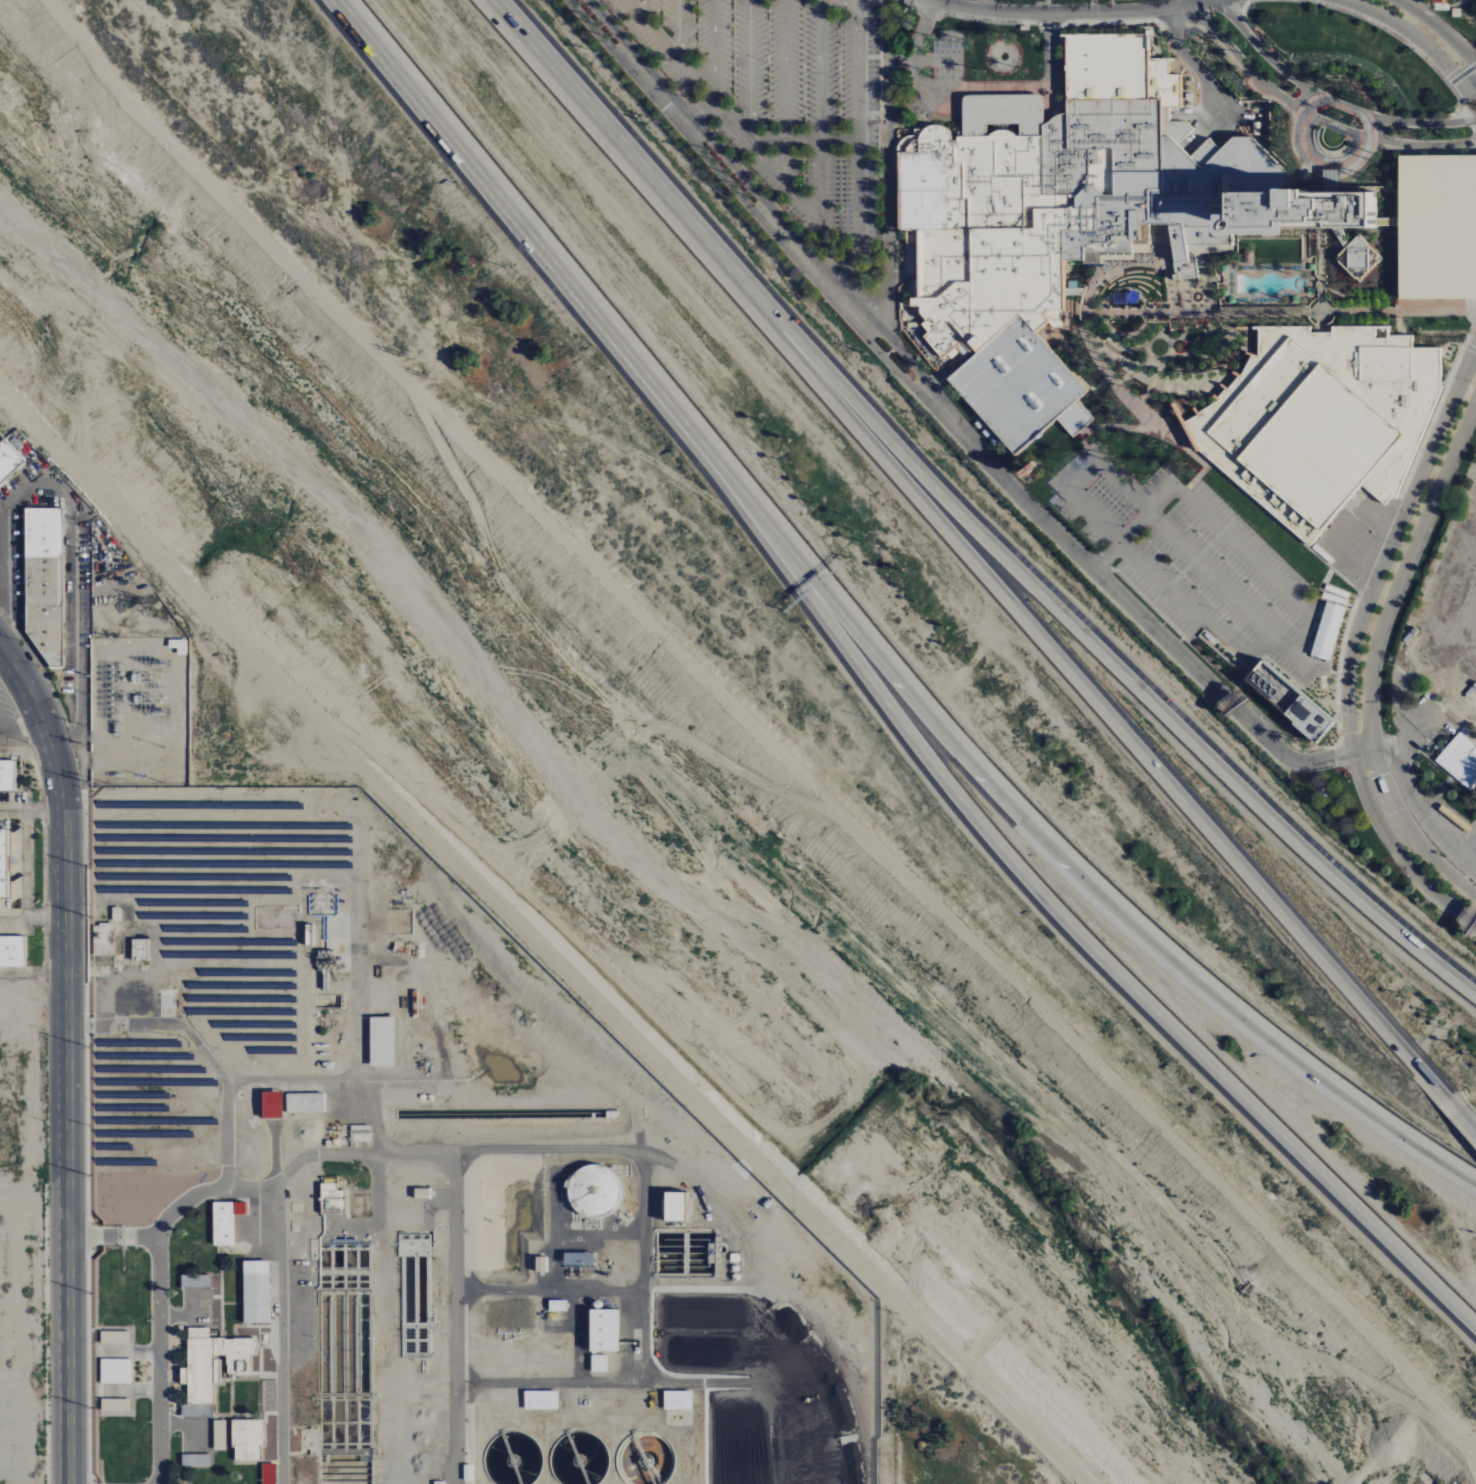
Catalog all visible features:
parking lot: (1034, 0)
building: (1438, 1)
road: (906, 2)
road: (1463, 2)
road: (848, 3)
road: (1175, 3)
road: (1457, 3)
road: (986, 5)
building: (1439, 6)
road: (1444, 6)
road: (918, 10)
road: (642, 11)
road: (1065, 12)
road: (1199, 13)
building: (1453, 13)
road: (939, 17)
road: (1185, 20)
road: (1369, 21)
road: (990, 22)
road: (1114, 23)
road: (1061, 24)
road: (1038, 25)
road: (1049, 25)
road: (1441, 29)
road: (678, 31)
road: (1414, 35)
road: (1163, 47)
road: (666, 48)
road: (1050, 50)
road: (714, 51)
road: (914, 55)
road: (647, 58)
road: (868, 58)
parking lot: (947, 58)
fountain: (1001, 58)
fountain: (1002, 58)
road: (1268, 59)
road: (880, 60)
road: (923, 61)
road: (1242, 62)
road: (749, 70)
road: (1462, 76)
road: (1211, 84)
road: (996, 89)
road: (786, 92)
parking lot: (780, 94)
road: (887, 99)
road: (1464, 99)
road: (868, 100)
road: (1002, 108)
road: (1055, 110)
road: (889, 111)
road: (821, 112)
road: (869, 114)
road: (1195, 114)
road: (698, 116)
road: (1238, 120)
road: (858, 123)
road: (1468, 123)
road: (1416, 124)
road: (929, 125)
road: (999, 126)
road: (1016, 126)
road: (906, 128)
road: (607, 132)
road: (801, 139)
fountain: (1333, 140)
fountain: (1331, 144)
road: (464, 146)
road: (1418, 147)
road: (1297, 150)
road: (725, 156)
road: (1298, 159)
road: (767, 163)
road: (1338, 180)
road: (745, 200)
building: (1083, 222)
building: (1443, 227)
parking lot: (1443, 227)
road: (1400, 228)
road: (887, 231)
road: (877, 236)
road: (1320, 244)
road: (1322, 244)
road: (1319, 255)
building: (1249, 257)
road: (917, 259)
road: (1301, 259)
road: (911, 262)
road: (842, 264)
road: (1315, 267)
road: (1222, 277)
road: (1317, 280)
building: (1133, 297)
building: (1121, 298)
road: (1406, 300)
road: (1315, 303)
fountain: (1310, 304)
fountain: (1328, 304)
fountain: (1264, 307)
building: (1077, 308)
road: (1146, 308)
road: (1101, 309)
road: (1145, 309)
road: (1464, 310)
road: (1089, 317)
road: (1257, 317)
road: (1101, 318)
road: (1145, 318)
fountain: (1328, 321)
fountain: (1311, 322)
road: (1320, 334)
road: (1100, 335)
road: (1399, 336)
road: (1102, 338)
road: (1104, 341)
road: (1199, 341)
road: (1116, 342)
road: (1469, 348)
road: (899, 351)
road: (1230, 351)
fountain: (1122, 354)
road: (1143, 366)
road: (1150, 368)
road: (1453, 369)
road: (1169, 370)
road: (1448, 373)
road: (945, 378)
road: (1125, 378)
road: (1145, 394)
road: (1212, 396)
building: (1272, 398)
road: (1146, 406)
road: (1436, 412)
road: (1425, 438)
building: (1207, 440)
road: (1168, 444)
building: (1331, 448)
building: (1202, 454)
road: (1093, 456)
building: (8, 460)
road: (1085, 477)
road: (1183, 491)
road: (1134, 529)
parking lot: (1252, 542)
road: (1381, 547)
road: (1390, 547)
road: (1245, 554)
parking lot: (1190, 567)
road: (1203, 569)
road: (1404, 570)
road: (1335, 574)
road: (1157, 579)
road: (1454, 579)
building: (43, 582)
road: (79, 582)
parking lot: (1453, 592)
road: (1151, 626)
road: (1314, 631)
road: (1467, 635)
building: (1411, 636)
road: (1089, 641)
road: (1261, 647)
road: (1453, 650)
road: (14, 660)
road: (1338, 667)
building: (1296, 669)
road: (1216, 670)
road: (1252, 671)
road: (1077, 681)
building: (1471, 693)
building: (1287, 701)
road: (1401, 711)
parking lot: (1413, 712)
road: (1426, 726)
road: (1425, 743)
road: (28, 754)
building: (1461, 761)
road: (1433, 765)
building: (6, 775)
road: (988, 778)
road: (1445, 786)
road: (1417, 799)
road: (33, 810)
parking lot: (1440, 810)
road: (1410, 833)
road: (431, 837)
road: (995, 840)
road: (1398, 851)
building: (2, 864)
road: (24, 864)
road: (34, 919)
building: (139, 950)
building: (11, 952)
road: (34, 972)
building: (381, 1042)
road: (236, 1078)
road: (69, 1079)
building: (305, 1103)
building: (271, 1106)
road: (1456, 1117)
road: (227, 1133)
road: (376, 1171)
road: (283, 1175)
building: (593, 1192)
building: (420, 1194)
building: (331, 1200)
building: (674, 1208)
building: (225, 1222)
road: (551, 1231)
road: (113, 1235)
road: (1465, 1246)
building: (578, 1260)
building: (540, 1264)
road: (643, 1267)
building: (195, 1281)
road: (548, 1290)
building: (255, 1292)
building: (557, 1306)
road: (185, 1316)
road: (455, 1317)
building: (602, 1331)
road: (279, 1333)
road: (578, 1337)
building: (114, 1338)
road: (128, 1351)
building: (212, 1363)
building: (598, 1364)
building: (115, 1372)
road: (599, 1384)
road: (130, 1390)
building: (540, 1401)
building: (677, 1401)
building: (115, 1406)
building: (193, 1412)
road: (189, 1425)
building: (219, 1435)
building: (247, 1440)
building: (196, 1461)
building: (268, 1474)
building: (438, 1483)

